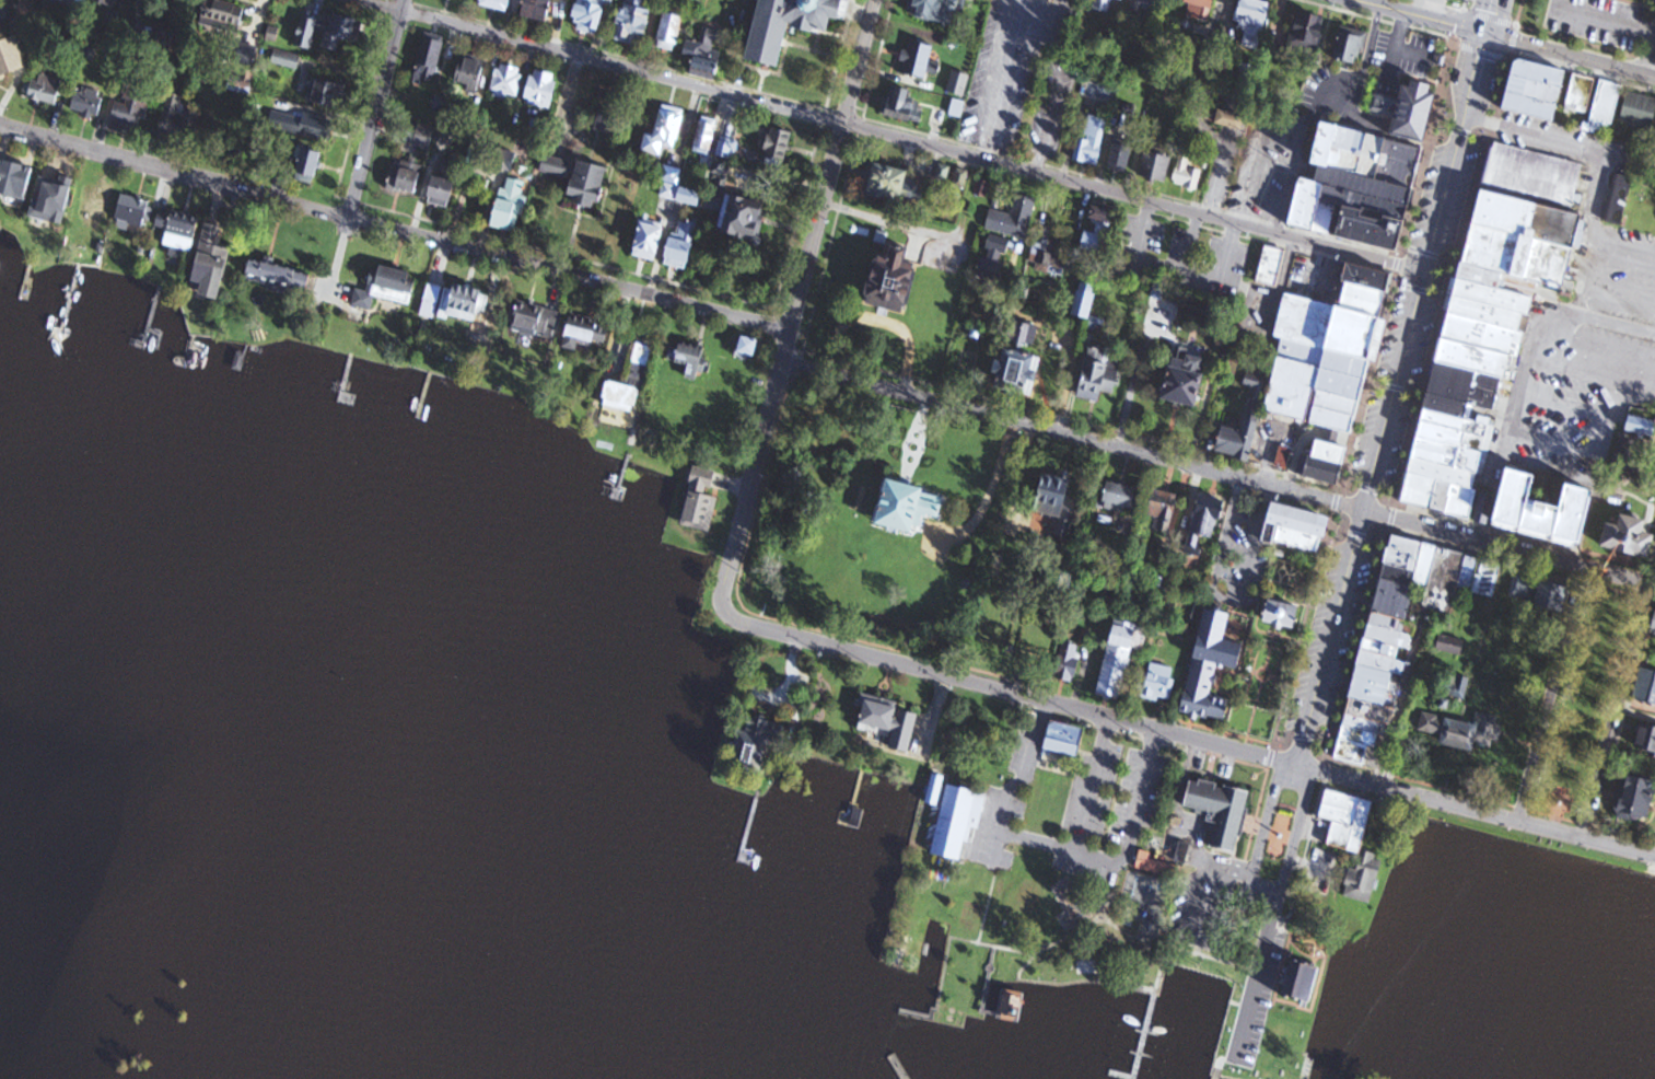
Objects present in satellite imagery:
building: (82, 0)
building: (116, 3)
building: (498, 4)
building: (1103, 4)
road: (378, 5)
road: (401, 5)
building: (1142, 5)
building: (538, 9)
building: (936, 10)
building: (1200, 10)
building: (7, 12)
building: (224, 14)
building: (588, 15)
road: (1414, 18)
road: (1489, 18)
building: (634, 22)
building: (1254, 22)
building: (791, 24)
building: (671, 30)
building: (329, 32)
building: (1309, 34)
building: (1350, 46)
building: (706, 50)
road: (1570, 56)
building: (11, 57)
building: (918, 59)
building: (429, 60)
building: (471, 73)
building: (508, 81)
building: (959, 83)
building: (43, 90)
building: (543, 90)
building: (1537, 90)
building: (326, 93)
building: (1581, 93)
building: (88, 102)
building: (902, 105)
building: (1605, 107)
building: (131, 109)
building: (1418, 111)
building: (1639, 111)
road: (374, 114)
building: (1231, 120)
building: (177, 121)
building: (607, 121)
building: (301, 125)
building: (665, 131)
building: (707, 136)
building: (424, 137)
building: (1092, 140)
road: (911, 141)
building: (778, 147)
building: (725, 150)
building: (1371, 153)
road: (1454, 153)
building: (1121, 158)
building: (505, 160)
road: (831, 164)
building: (308, 166)
building: (557, 166)
building: (1157, 166)
road: (174, 172)
building: (1187, 174)
building: (405, 177)
building: (15, 178)
building: (446, 182)
building: (591, 184)
building: (893, 184)
building: (1619, 198)
building: (53, 199)
building: (97, 200)
building: (511, 204)
building: (135, 211)
building: (744, 218)
building: (1015, 218)
building: (182, 232)
building: (1099, 232)
building: (650, 237)
building: (683, 243)
building: (995, 258)
building: (212, 263)
building: (1271, 265)
road: (569, 274)
building: (280, 277)
building: (897, 280)
building: (386, 288)
building: (1084, 300)
building: (463, 303)
building: (1202, 309)
building: (1493, 316)
building: (536, 320)
building: (587, 328)
road: (1530, 345)
building: (749, 347)
building: (1330, 351)
building: (688, 358)
building: (1021, 360)
building: (1100, 374)
building: (1187, 378)
building: (631, 381)
building: (1642, 427)
building: (1243, 436)
road: (1072, 439)
building: (1284, 457)
building: (1326, 463)
road: (755, 467)
road: (988, 496)
building: (1058, 498)
building: (1121, 498)
building: (701, 500)
building: (910, 507)
building: (1165, 510)
building: (1545, 510)
road: (1361, 518)
building: (1208, 521)
building: (1016, 525)
building: (1298, 529)
building: (1632, 537)
park: (1635, 543)
road: (1508, 549)
building: (1407, 554)
building: (1427, 567)
building: (1470, 572)
building: (1401, 576)
building: (1488, 579)
building: (1445, 581)
building: (1522, 587)
building: (1553, 596)
building: (1397, 600)
building: (1284, 616)
building: (1390, 624)
building: (1653, 628)
building: (1391, 637)
building: (1452, 645)
building: (1384, 649)
building: (1118, 660)
building: (1069, 662)
building: (1384, 664)
building: (1212, 666)
building: (1157, 682)
building: (1374, 686)
building: (1647, 687)
road: (1006, 692)
road: (1551, 695)
road: (1620, 703)
building: (1373, 711)
building: (891, 719)
building: (1367, 724)
building: (1462, 731)
building: (1360, 735)
building: (1065, 736)
building: (1646, 740)
building: (759, 742)
building: (1353, 751)
road: (1016, 784)
road: (1092, 785)
building: (935, 789)
building: (1639, 793)
pier: (855, 796)
building: (1217, 807)
road: (1477, 810)
building: (1347, 819)
building: (958, 820)
pier: (751, 825)
road: (1262, 834)
road: (1122, 857)
building: (1157, 865)
building: (976, 897)
road: (1275, 913)
park: (1287, 936)
building: (1303, 979)
river: (47, 1012)
pier: (919, 1014)
pier: (1142, 1043)
pier: (898, 1067)
pier: (1219, 1067)

